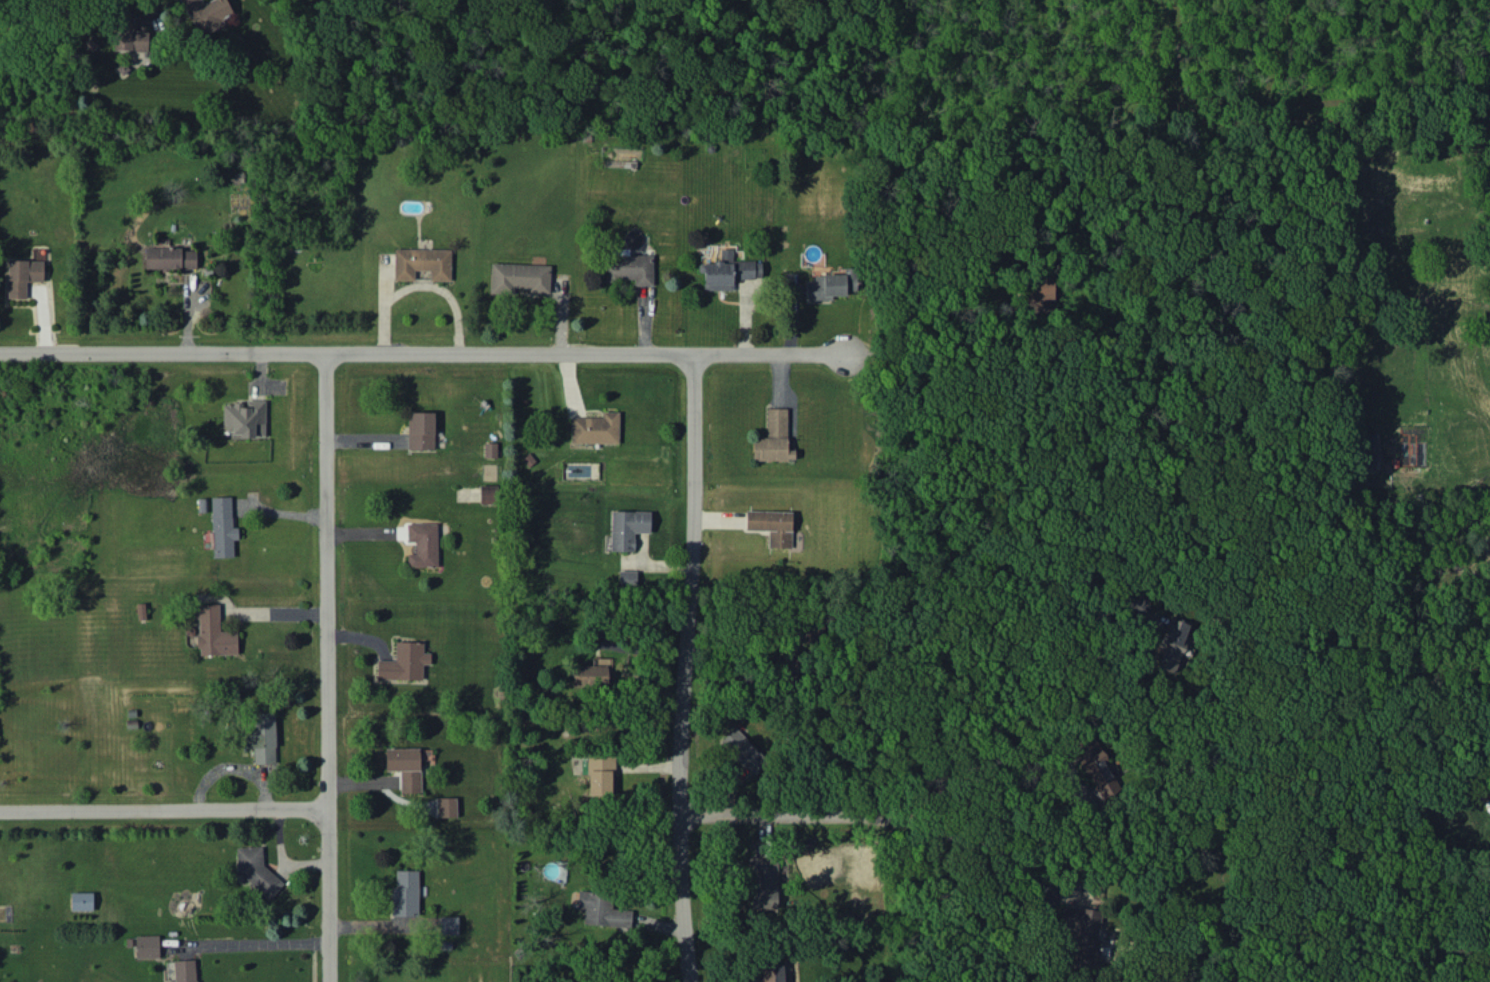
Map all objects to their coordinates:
building: (207, 14)
building: (130, 34)
building: (170, 258)
building: (422, 263)
building: (630, 268)
building: (728, 271)
building: (23, 275)
building: (520, 277)
building: (832, 284)
building: (1039, 294)
road: (421, 355)
building: (244, 418)
building: (595, 428)
building: (421, 430)
building: (773, 438)
building: (490, 449)
building: (1369, 449)
building: (488, 493)
building: (223, 526)
building: (772, 526)
building: (627, 528)
building: (423, 544)
building: (627, 578)
road: (270, 613)
building: (214, 632)
building: (812, 634)
building: (1172, 644)
building: (404, 661)
road: (326, 668)
road: (683, 668)
building: (590, 675)
building: (261, 736)
building: (743, 751)
road: (1052, 758)
building: (1095, 764)
building: (405, 767)
building: (601, 774)
road: (937, 778)
building: (446, 806)
road: (163, 810)
road: (942, 833)
building: (256, 870)
building: (765, 882)
building: (405, 893)
building: (81, 901)
building: (602, 909)
building: (449, 925)
building: (1082, 933)
road: (250, 944)
building: (147, 946)
building: (185, 970)
building: (772, 972)

